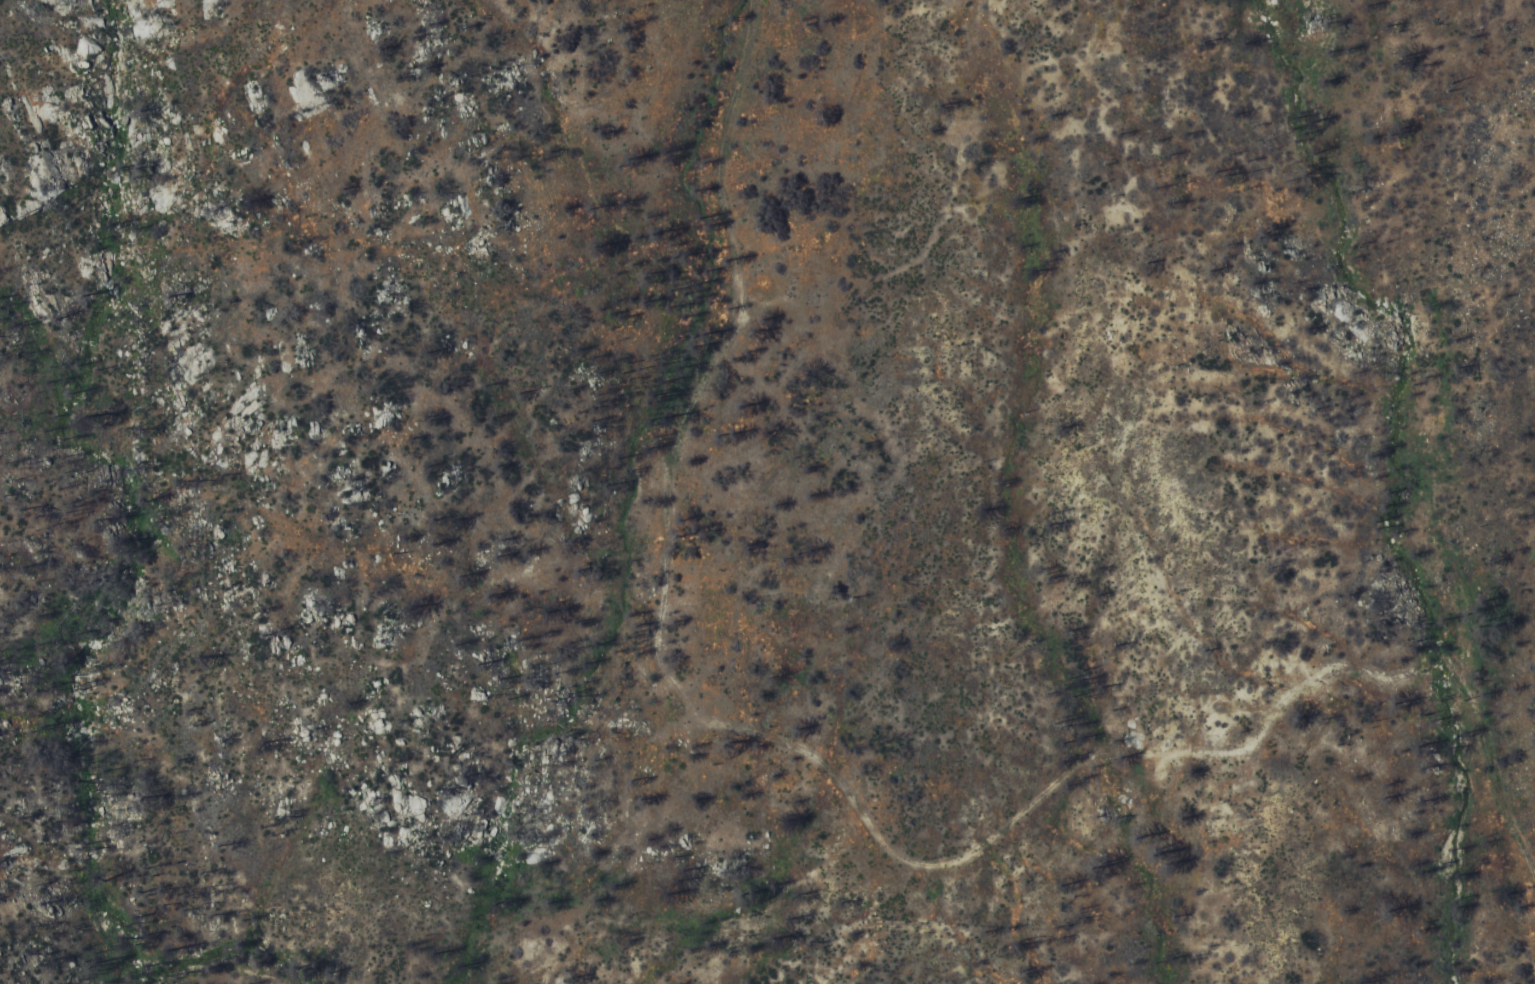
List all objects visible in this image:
road: (853, 801)

